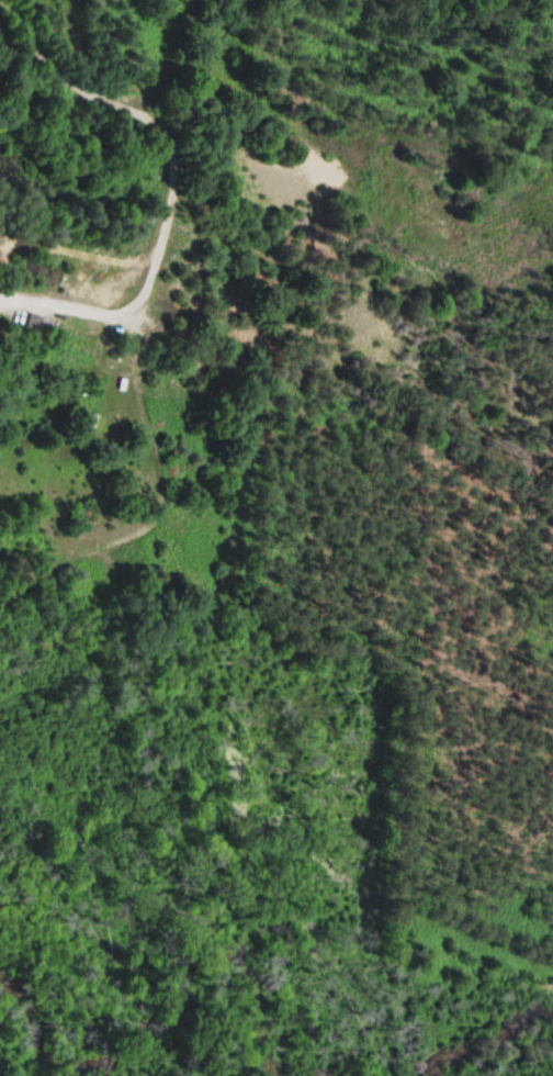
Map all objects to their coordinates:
road: (149, 125)
building: (37, 326)
park: (110, 1031)

